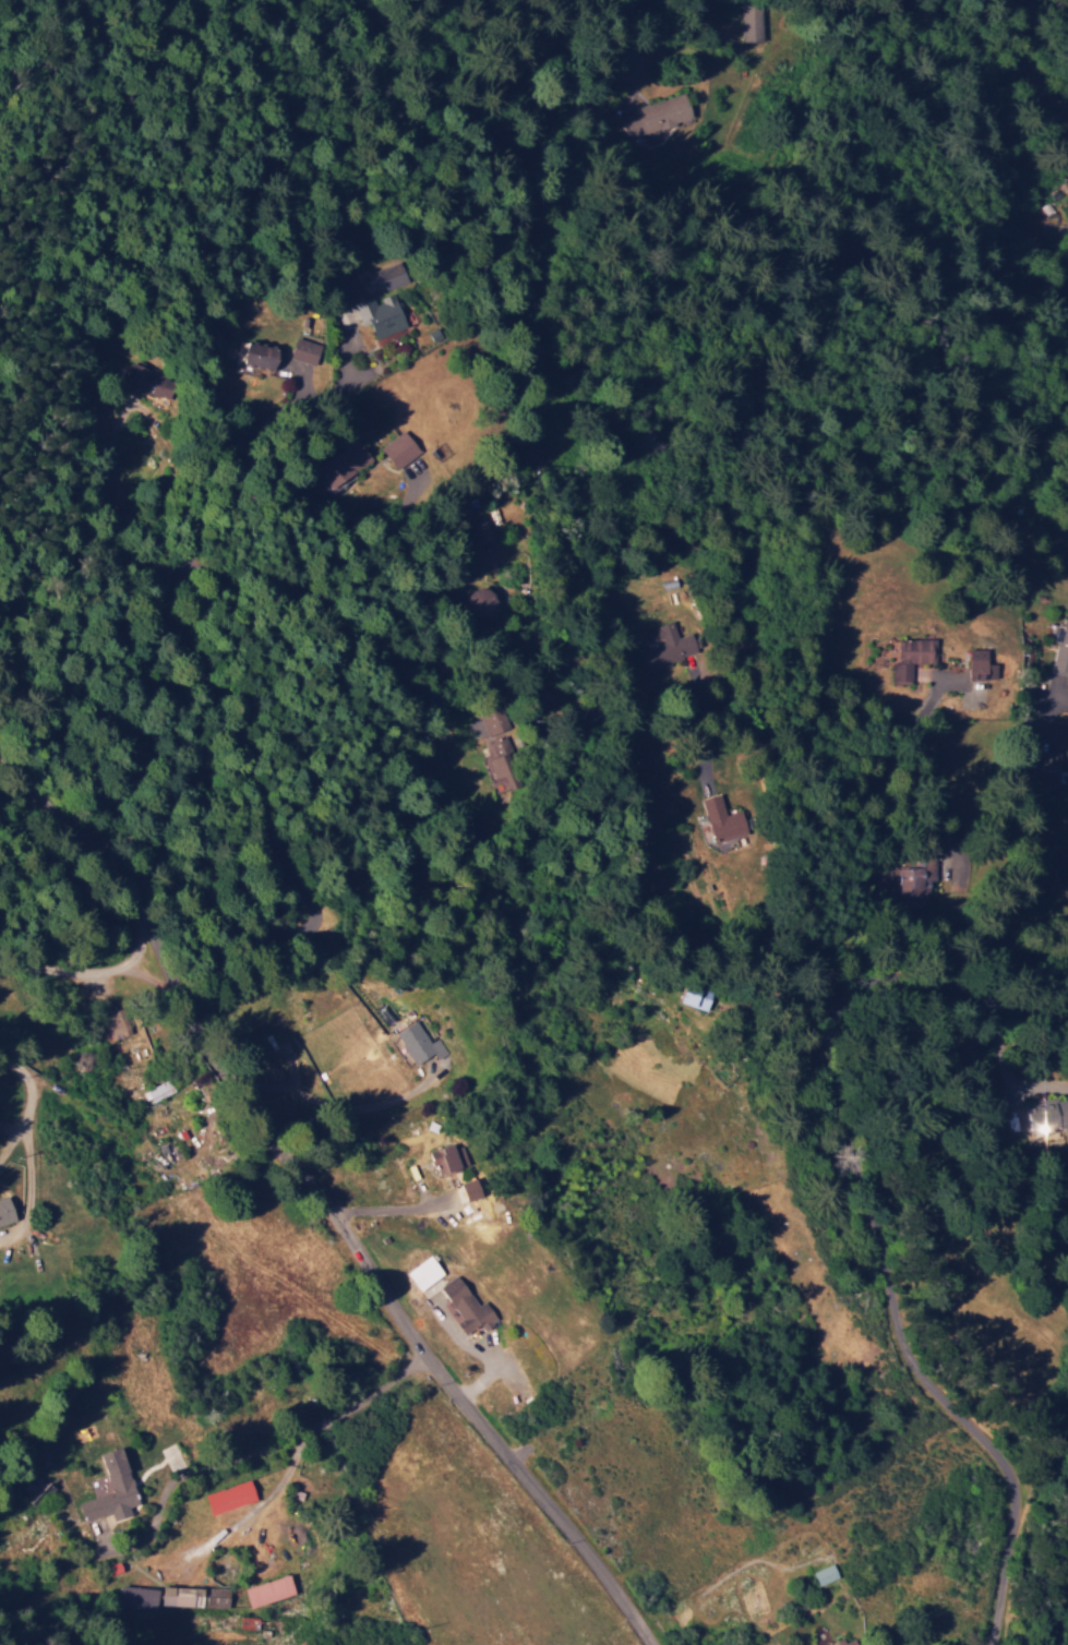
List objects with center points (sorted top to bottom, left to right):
building: (749, 23)
road: (1039, 53)
building: (659, 116)
building: (381, 314)
building: (305, 350)
building: (262, 355)
building: (399, 448)
building: (346, 466)
road: (212, 576)
building: (664, 647)
building: (1061, 650)
building: (905, 655)
building: (981, 669)
road: (751, 681)
building: (494, 722)
building: (501, 761)
building: (722, 819)
road: (63, 851)
building: (921, 881)
building: (695, 996)
building: (419, 1042)
building: (159, 1090)
building: (1047, 1115)
building: (444, 1157)
road: (137, 1175)
building: (472, 1191)
road: (309, 1193)
road: (872, 1223)
building: (424, 1272)
building: (467, 1306)
building: (111, 1488)
building: (230, 1497)
building: (824, 1573)
building: (269, 1589)
building: (137, 1596)
building: (194, 1596)
road: (12, 1636)
building: (844, 1642)

